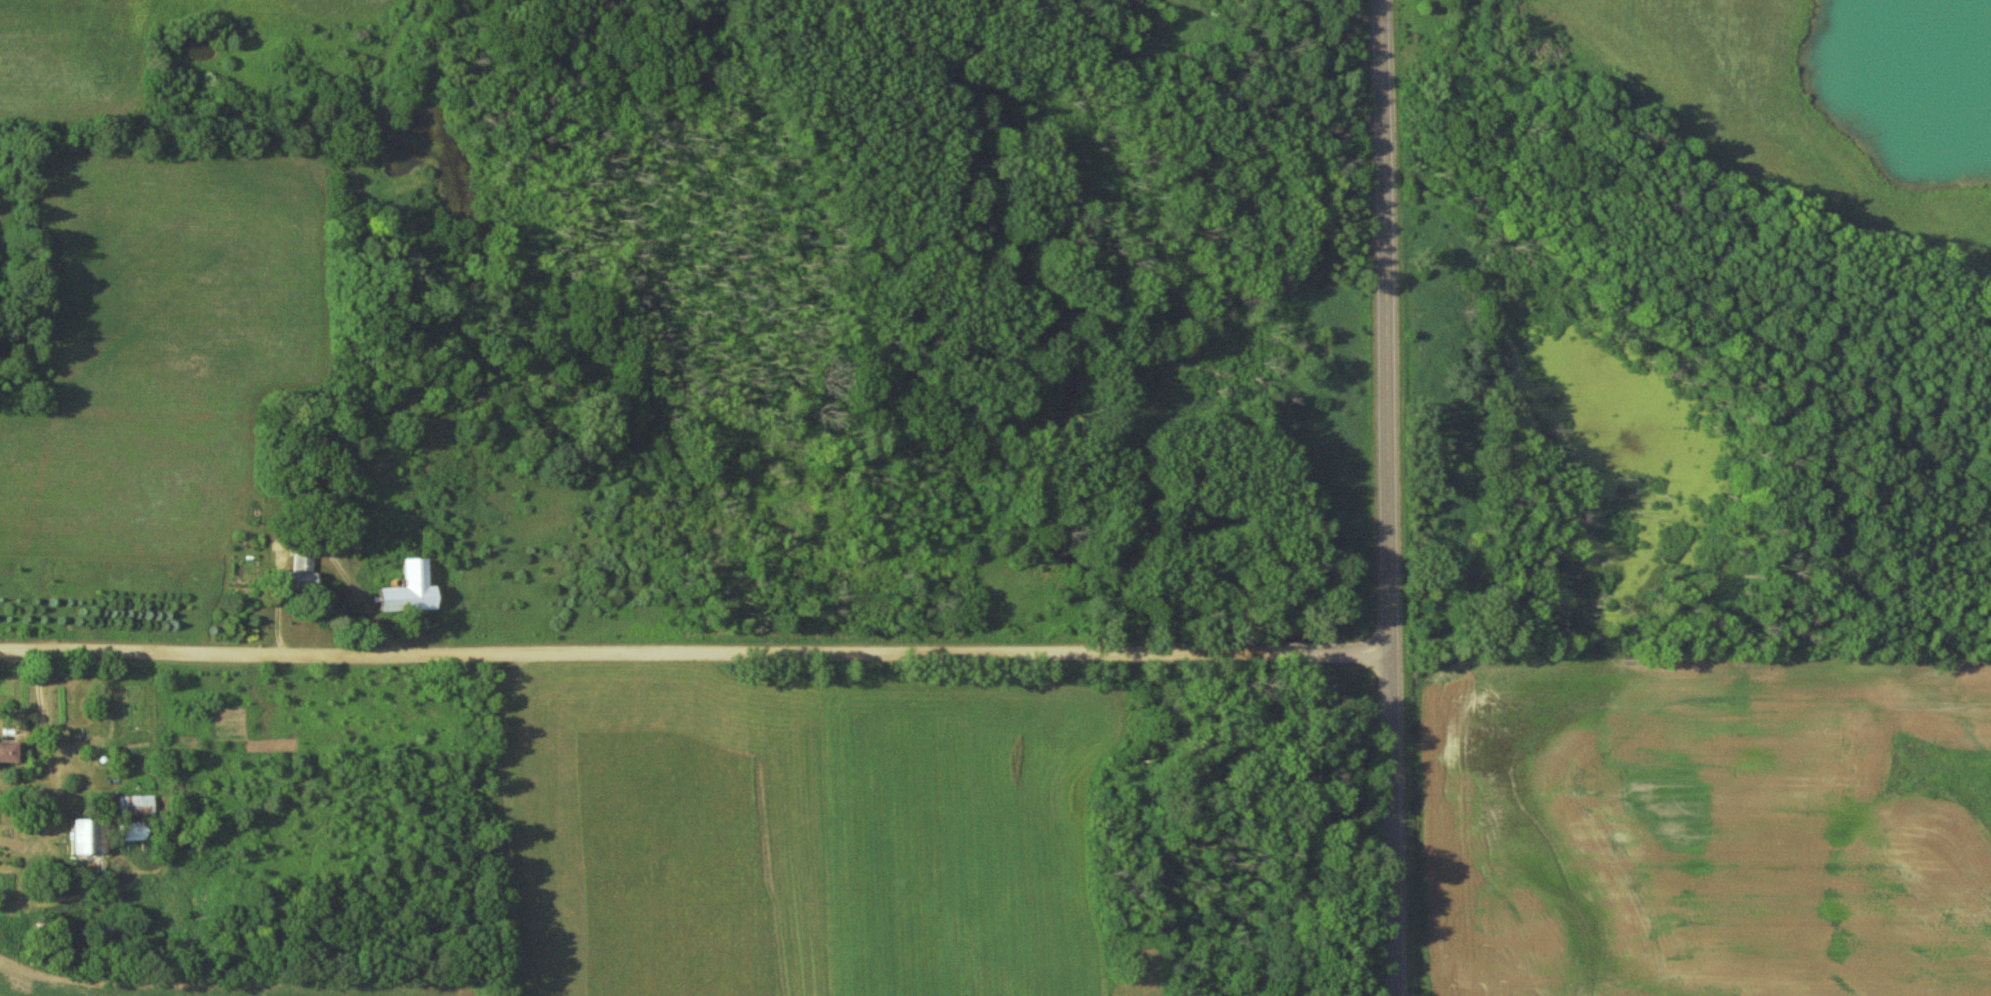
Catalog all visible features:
road: (1389, 497)
building: (300, 571)
building: (407, 590)
road: (695, 656)
building: (7, 753)
building: (136, 805)
building: (132, 831)
building: (84, 838)

